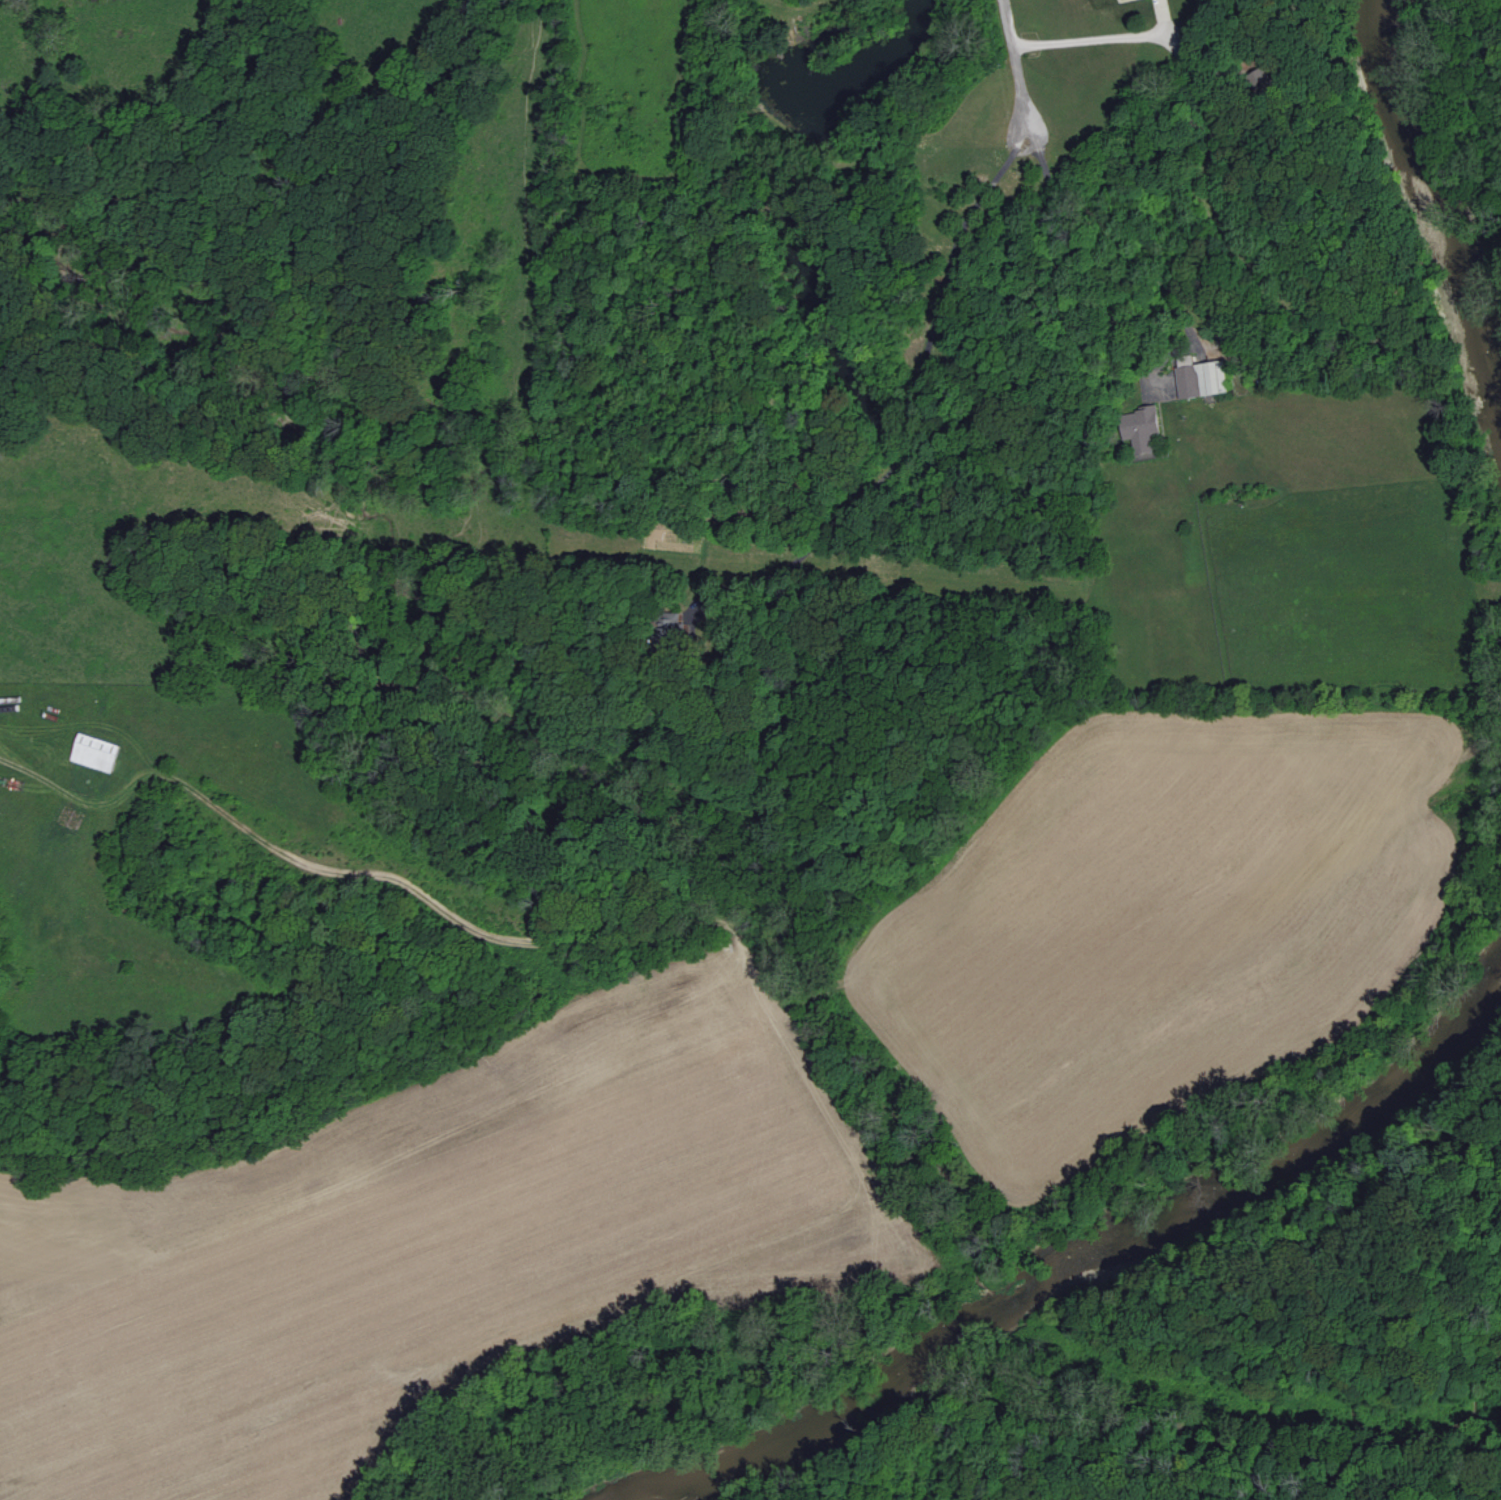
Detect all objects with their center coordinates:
road: (1085, 40)
road: (1014, 65)
river: (1437, 228)
road: (1063, 275)
building: (1199, 379)
road: (912, 398)
building: (1139, 426)
building: (97, 752)
river: (1085, 1267)

